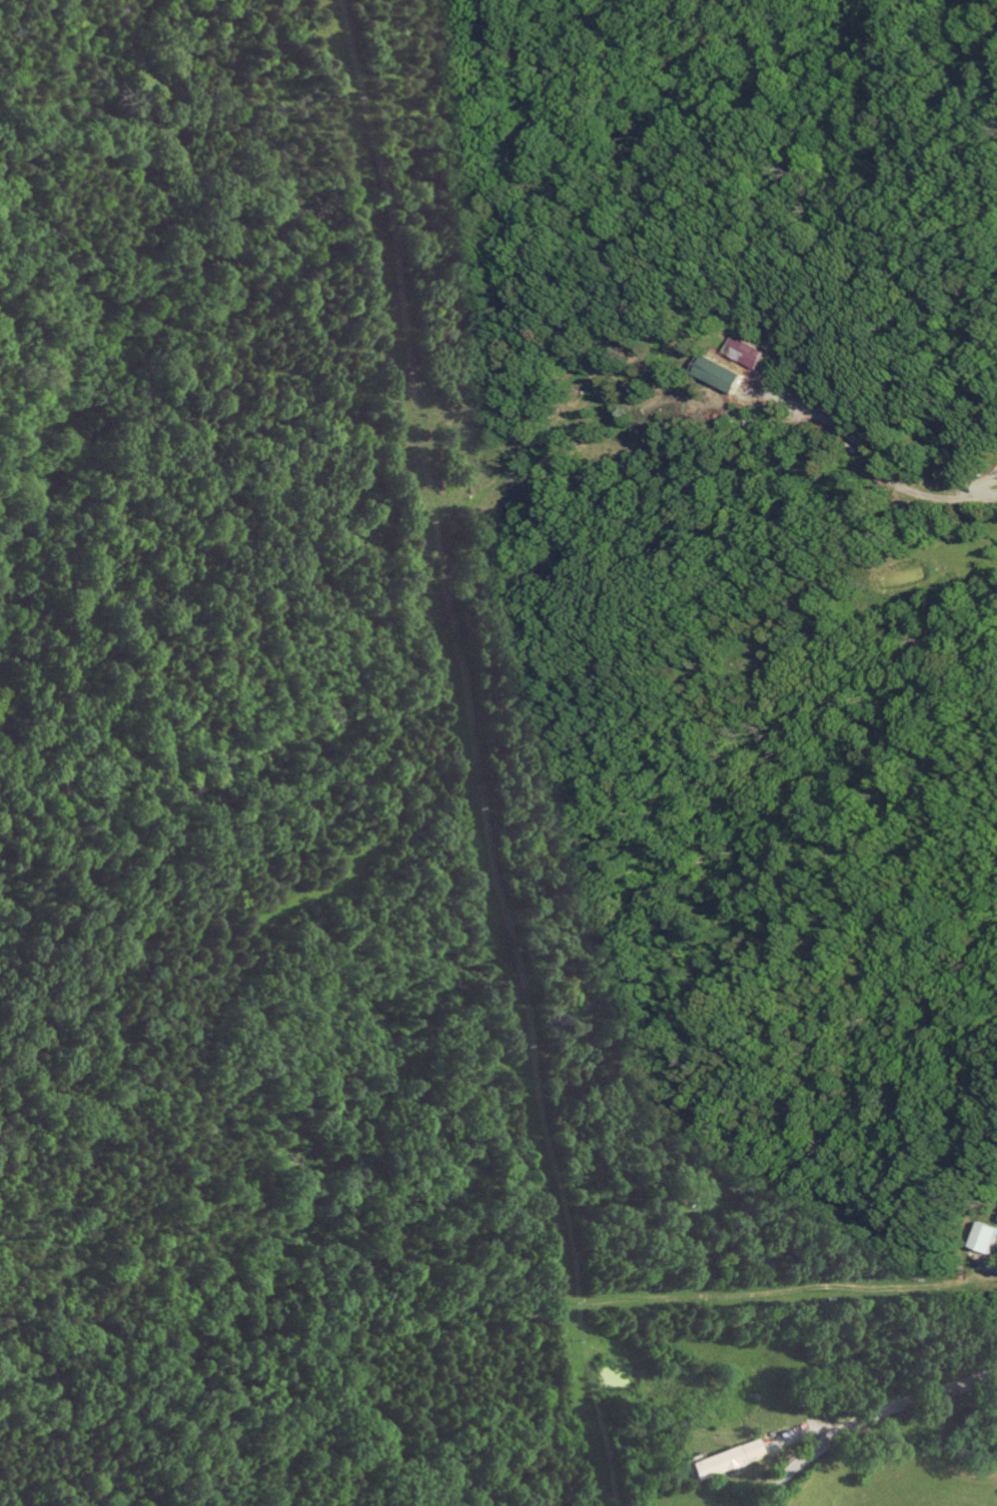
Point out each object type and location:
building: (753, 353)
building: (729, 375)
road: (875, 464)
building: (989, 1238)
road: (867, 1419)
building: (728, 1459)

